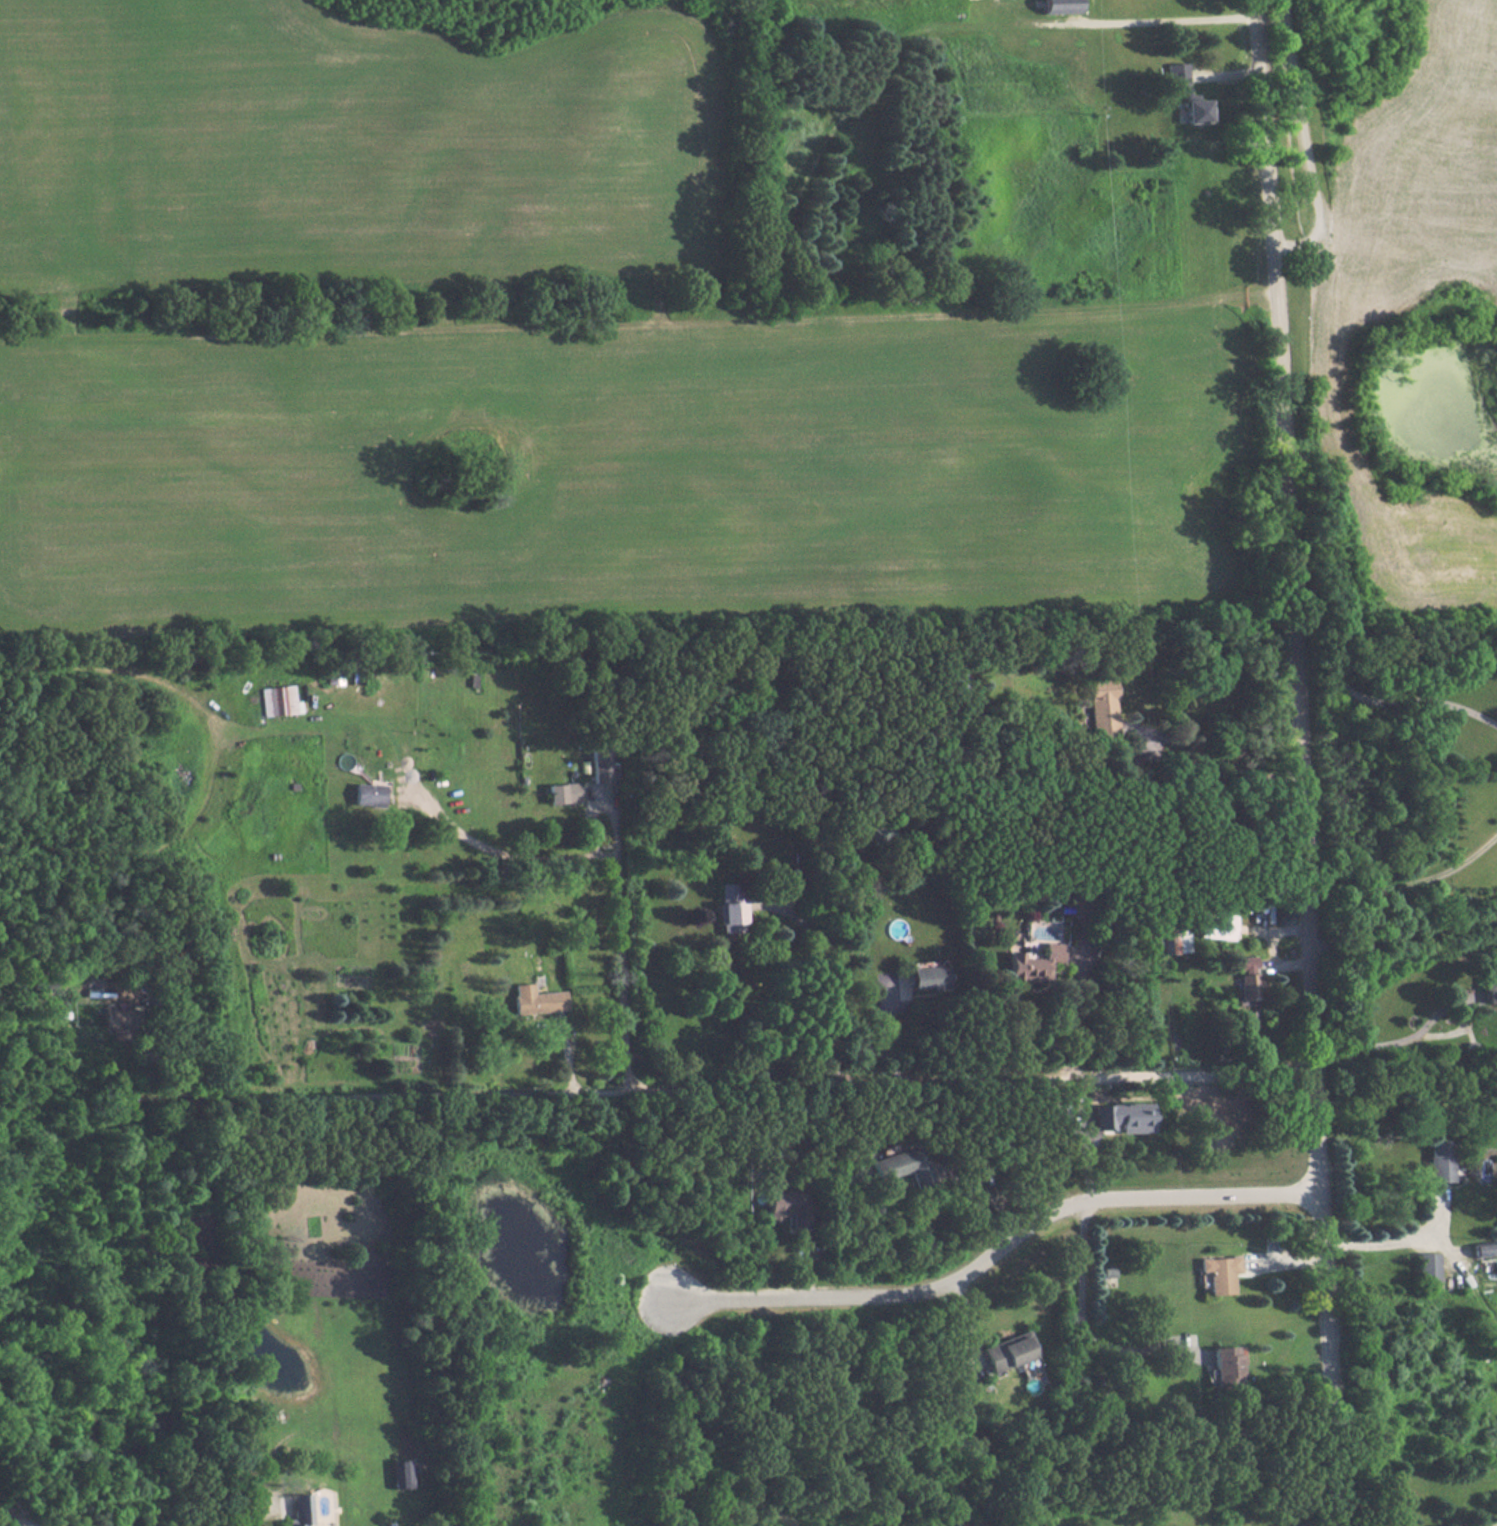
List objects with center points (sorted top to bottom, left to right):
building: (1059, 6)
building: (1186, 93)
road: (1301, 139)
road: (1399, 688)
building: (279, 700)
building: (1102, 708)
road: (1218, 760)
road: (1300, 762)
building: (601, 766)
building: (563, 792)
building: (369, 794)
road: (620, 873)
road: (1407, 885)
building: (731, 907)
building: (1218, 925)
road: (1401, 937)
building: (1179, 940)
building: (1033, 963)
building: (929, 978)
building: (1247, 979)
building: (1490, 987)
road: (827, 988)
building: (93, 991)
building: (537, 999)
road: (1078, 1015)
building: (118, 1018)
road: (1399, 1041)
road: (717, 1090)
building: (1124, 1116)
building: (1440, 1159)
building: (903, 1165)
building: (792, 1207)
road: (1389, 1240)
road: (994, 1247)
building: (1485, 1248)
building: (1428, 1266)
building: (1108, 1272)
building: (1220, 1272)
road: (1081, 1312)
road: (961, 1323)
building: (1008, 1350)
building: (1228, 1364)
building: (403, 1473)
building: (299, 1511)
road: (248, 1518)
building: (967, 1523)
road: (1320, 1523)
road: (1492, 1524)

